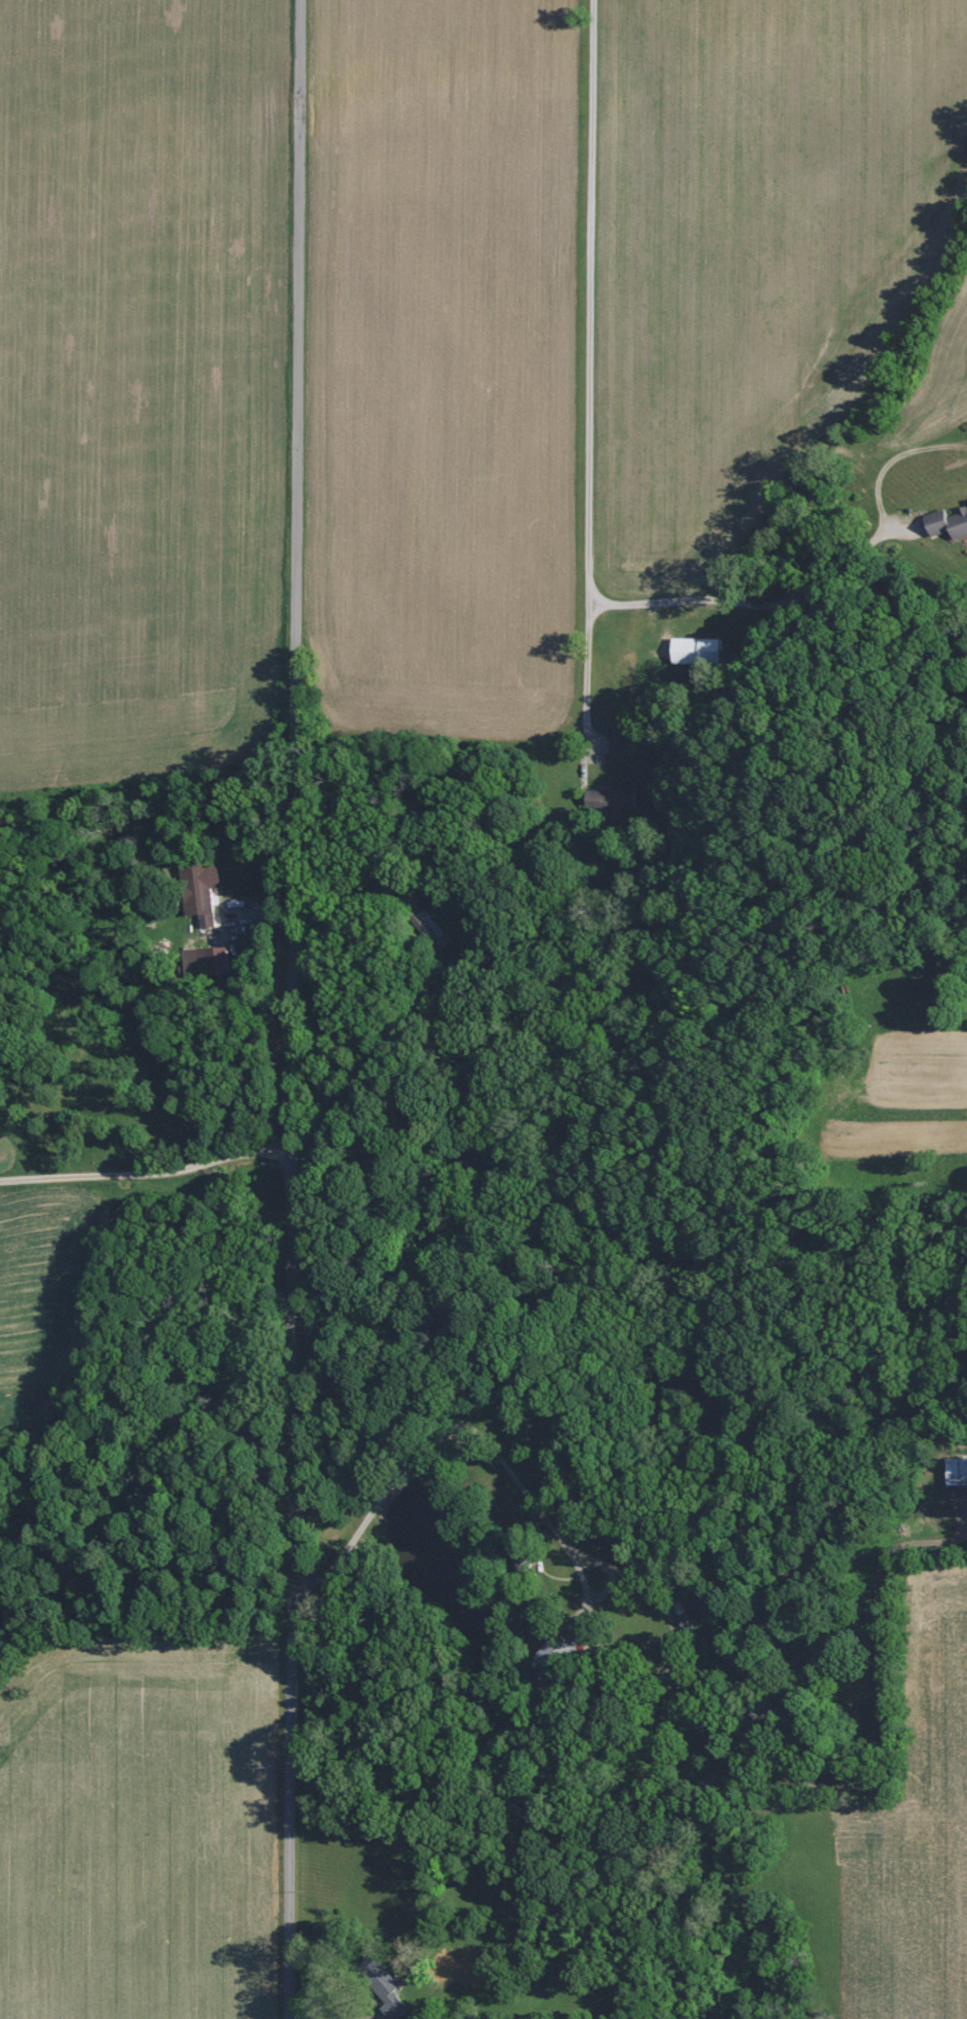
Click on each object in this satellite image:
road: (589, 389)
building: (948, 521)
road: (753, 604)
building: (694, 649)
building: (611, 799)
road: (368, 874)
building: (206, 891)
building: (430, 927)
building: (204, 961)
road: (306, 1010)
road: (157, 1172)
road: (448, 1432)
building: (957, 1470)
building: (517, 1557)
building: (687, 1625)
building: (550, 1654)
building: (383, 1988)

